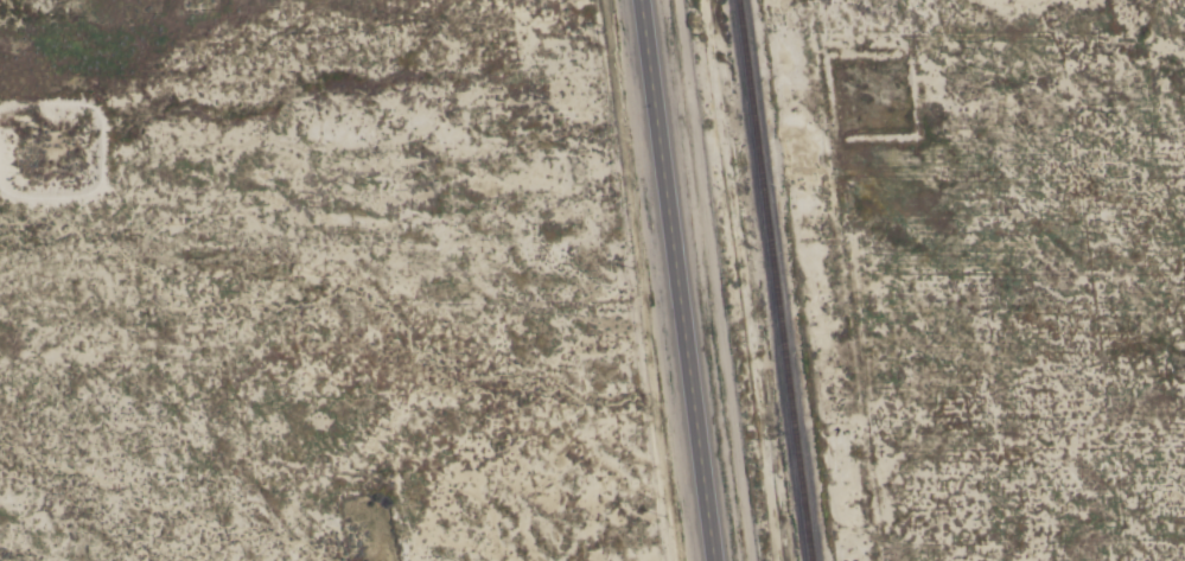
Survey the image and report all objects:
road: (676, 280)
railway: (772, 280)

